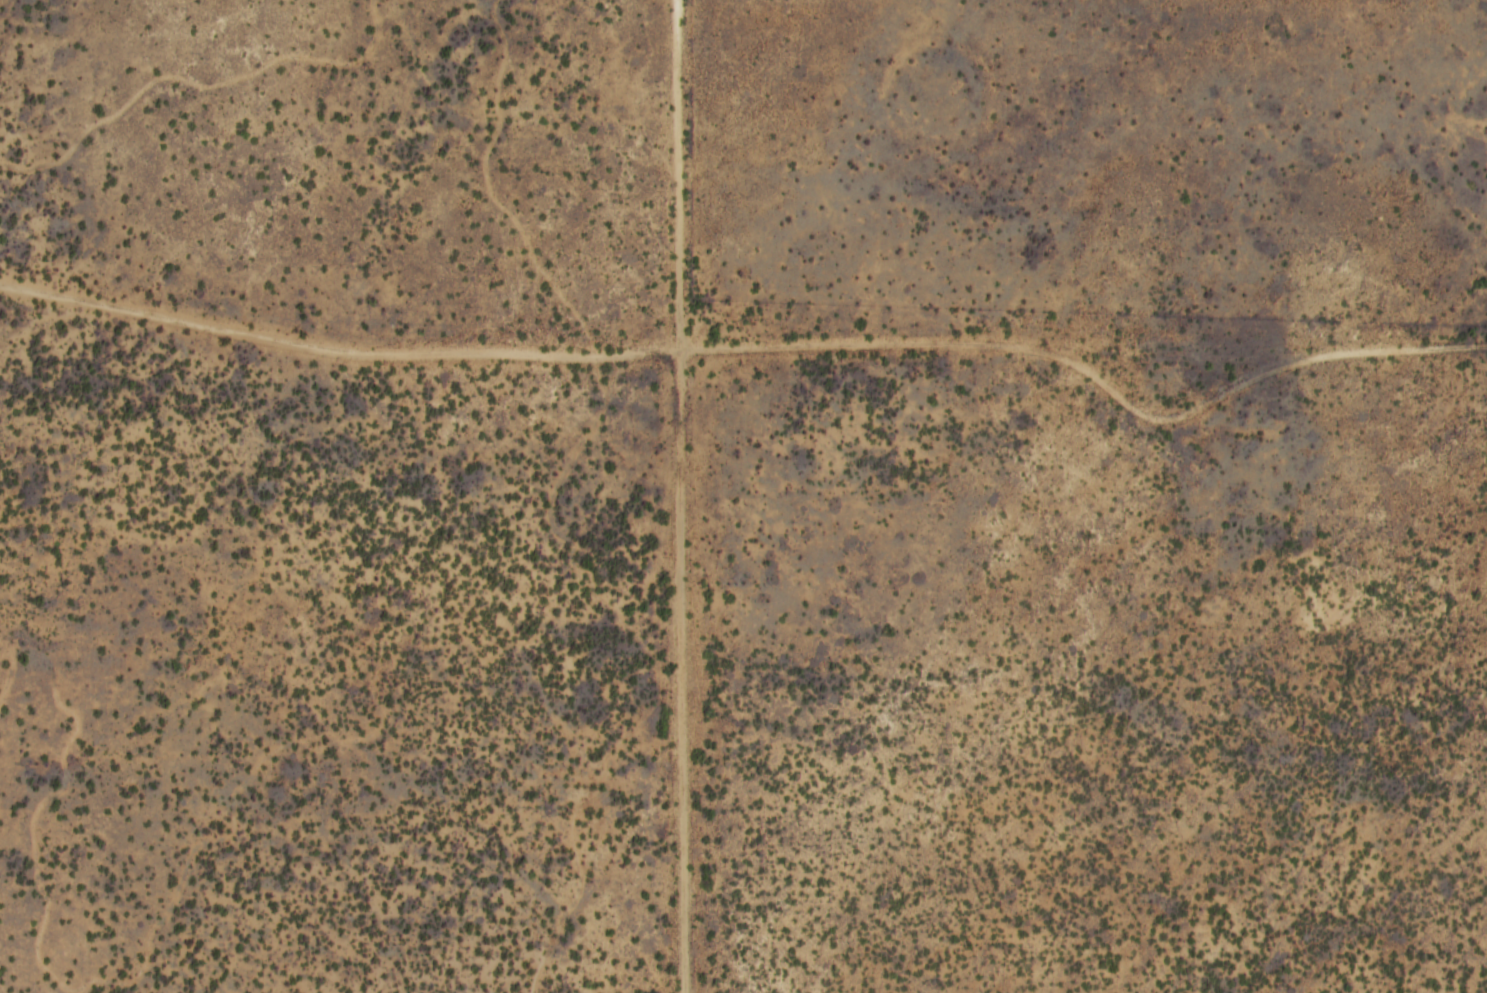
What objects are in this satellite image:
road: (1082, 368)
road: (679, 496)

